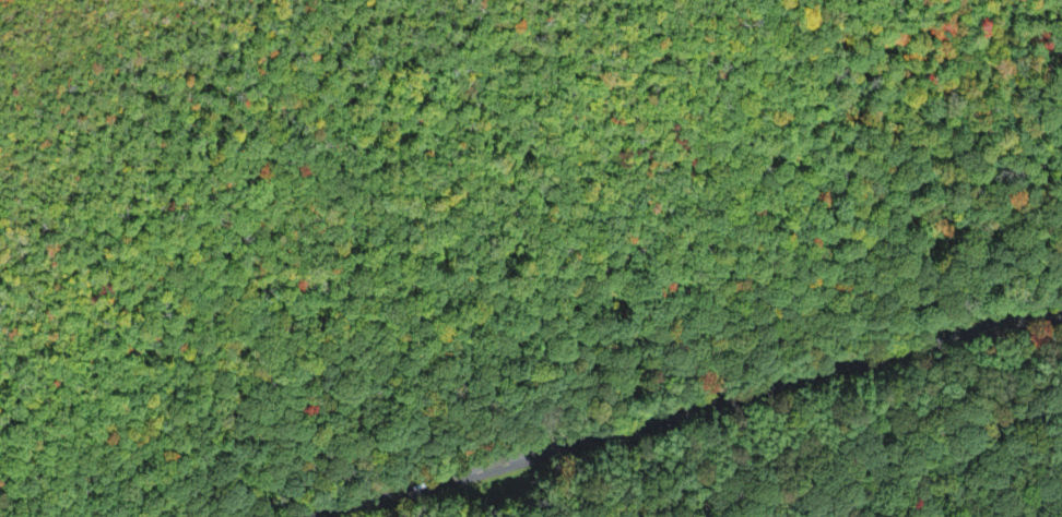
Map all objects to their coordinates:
road: (531, 337)
road: (688, 412)

